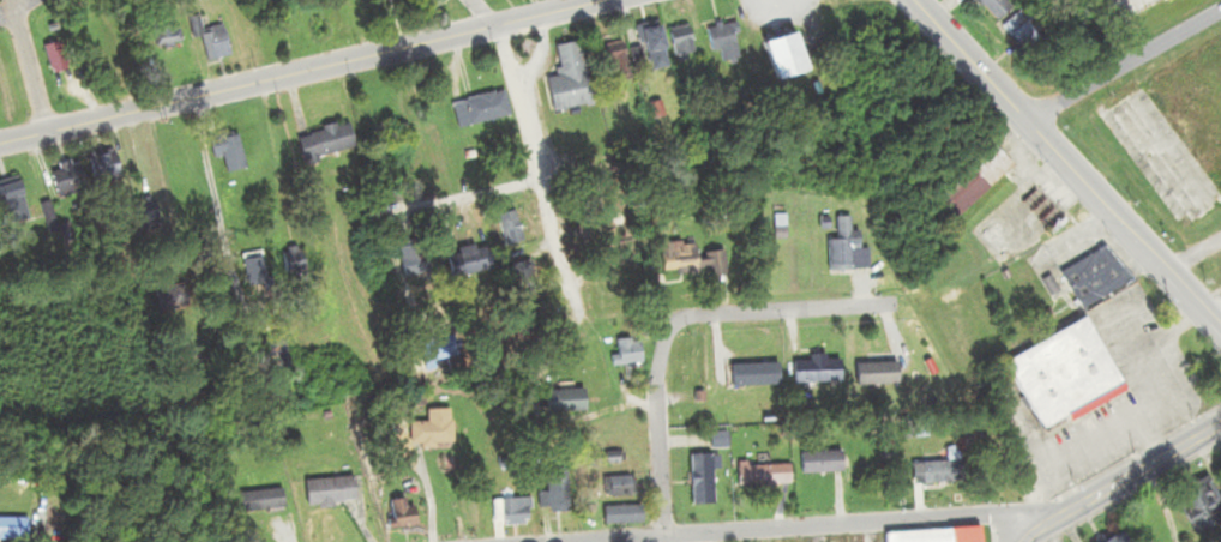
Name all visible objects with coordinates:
building: (834, 0)
building: (429, 5)
road: (13, 7)
building: (990, 7)
building: (1125, 8)
road: (481, 13)
building: (162, 32)
building: (1016, 34)
building: (679, 41)
building: (721, 42)
building: (211, 43)
building: (650, 48)
building: (782, 56)
building: (53, 59)
building: (610, 59)
road: (1123, 64)
road: (26, 65)
road: (301, 72)
building: (566, 79)
building: (477, 109)
building: (1173, 133)
building: (321, 141)
building: (224, 151)
road: (525, 153)
road: (272, 159)
road: (1069, 167)
building: (100, 169)
building: (968, 177)
road: (446, 180)
building: (62, 181)
building: (10, 204)
building: (1041, 212)
building: (506, 228)
building: (836, 245)
building: (291, 259)
building: (410, 259)
building: (464, 260)
building: (686, 260)
building: (251, 269)
building: (1093, 276)
building: (518, 278)
building: (167, 297)
road: (776, 311)
road: (1169, 324)
building: (622, 351)
building: (811, 369)
building: (1059, 372)
building: (870, 374)
building: (559, 401)
road: (1127, 423)
building: (429, 429)
road: (655, 429)
road: (1145, 441)
building: (608, 457)
building: (816, 462)
building: (930, 472)
building: (759, 476)
building: (697, 480)
road: (1118, 483)
building: (615, 486)
building: (551, 490)
building: (325, 492)
building: (258, 500)
building: (1195, 506)
building: (511, 511)
building: (398, 514)
building: (618, 514)
road: (793, 525)
building: (11, 529)
building: (934, 536)
road: (662, 537)

